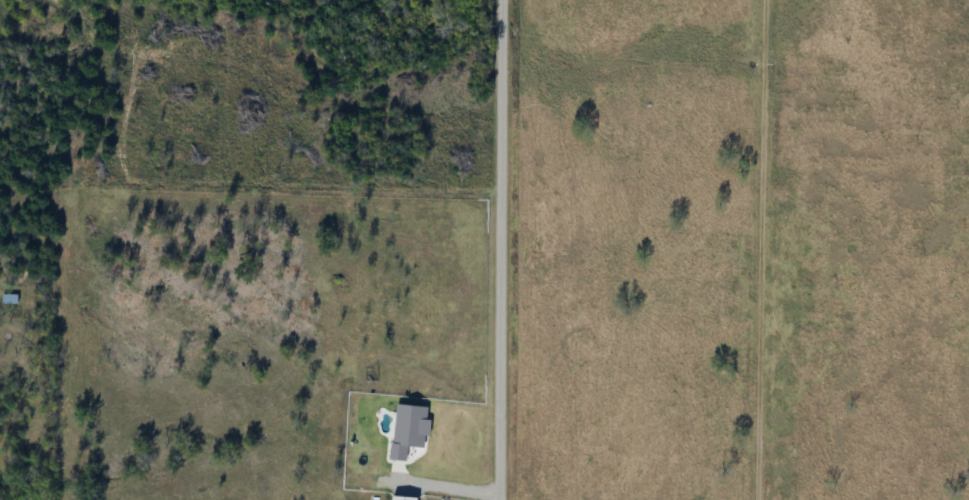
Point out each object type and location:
road: (501, 250)
road: (446, 485)

